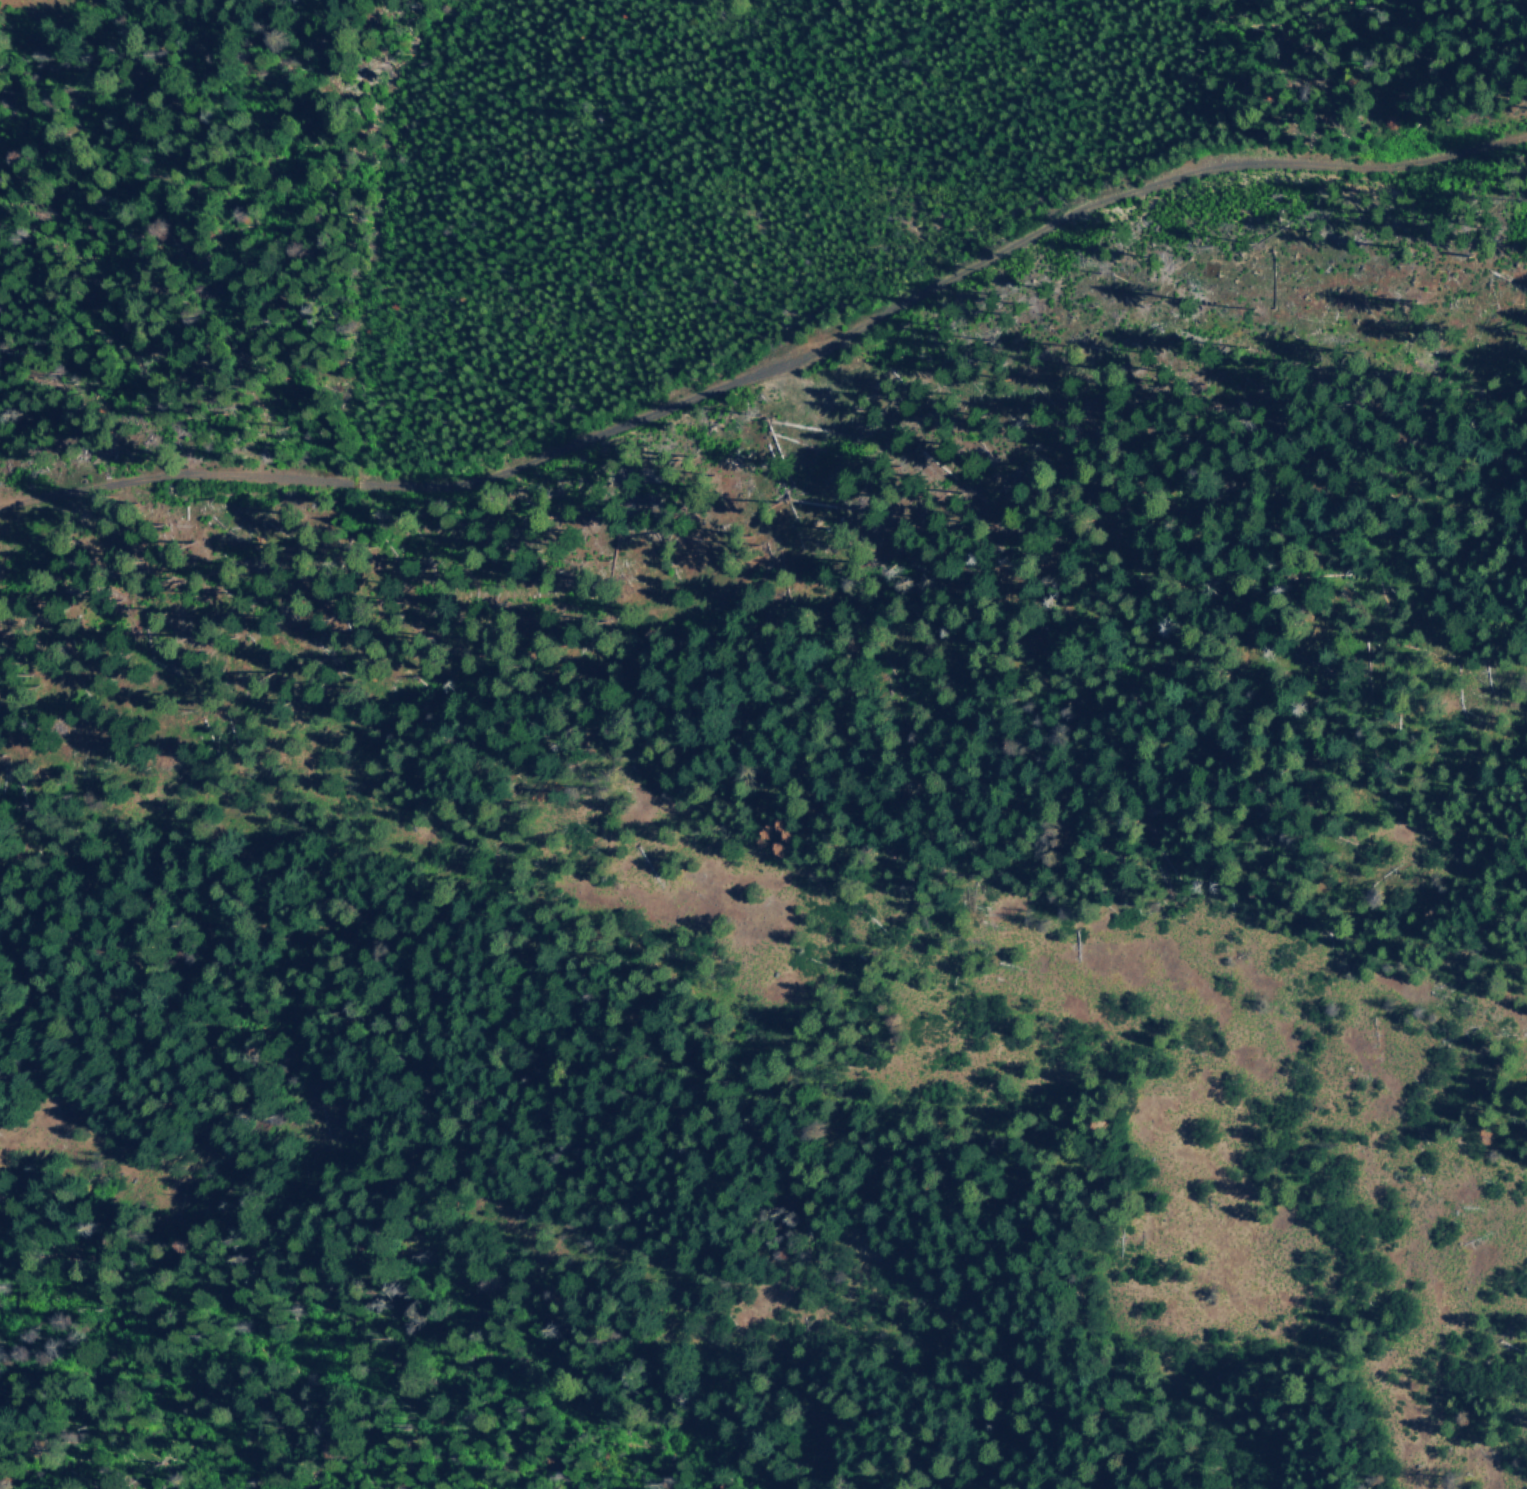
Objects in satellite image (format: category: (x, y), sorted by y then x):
road: (1515, 141)
road: (762, 371)
road: (821, 453)

